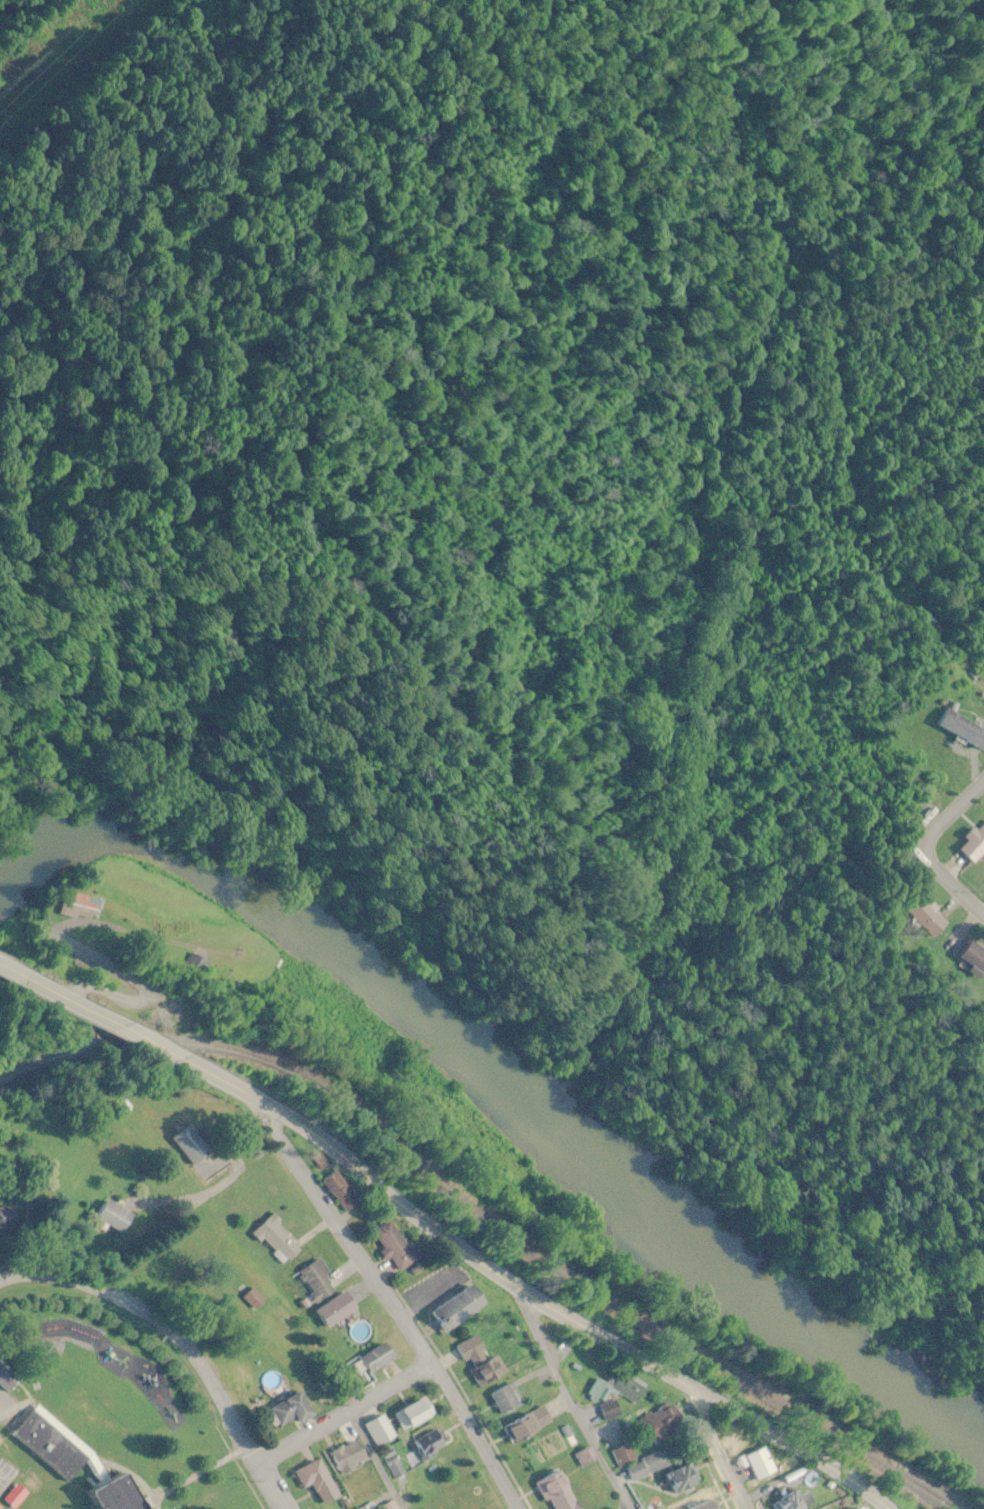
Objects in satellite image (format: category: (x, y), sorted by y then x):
building: (963, 728)
building: (975, 844)
road: (928, 849)
building: (82, 906)
building: (926, 915)
road: (56, 930)
building: (976, 961)
road: (94, 989)
road: (124, 1029)
river: (501, 1081)
building: (193, 1144)
building: (343, 1191)
railway: (498, 1205)
building: (113, 1216)
building: (397, 1246)
building: (316, 1280)
road: (393, 1309)
building: (460, 1309)
building: (336, 1310)
road: (560, 1314)
road: (177, 1341)
building: (375, 1360)
building: (480, 1360)
building: (619, 1390)
building: (505, 1401)
road: (568, 1407)
building: (610, 1411)
building: (289, 1413)
road: (342, 1416)
building: (413, 1416)
building: (660, 1424)
building: (528, 1426)
building: (378, 1431)
building: (0, 1439)
building: (51, 1446)
building: (430, 1446)
road: (713, 1452)
building: (624, 1456)
building: (348, 1457)
road: (375, 1461)
building: (391, 1465)
building: (649, 1466)
building: (682, 1480)
building: (318, 1482)
building: (558, 1492)
building: (124, 1494)
building: (791, 1502)
building: (706, 1505)
building: (360, 1508)
building: (867, 1508)

